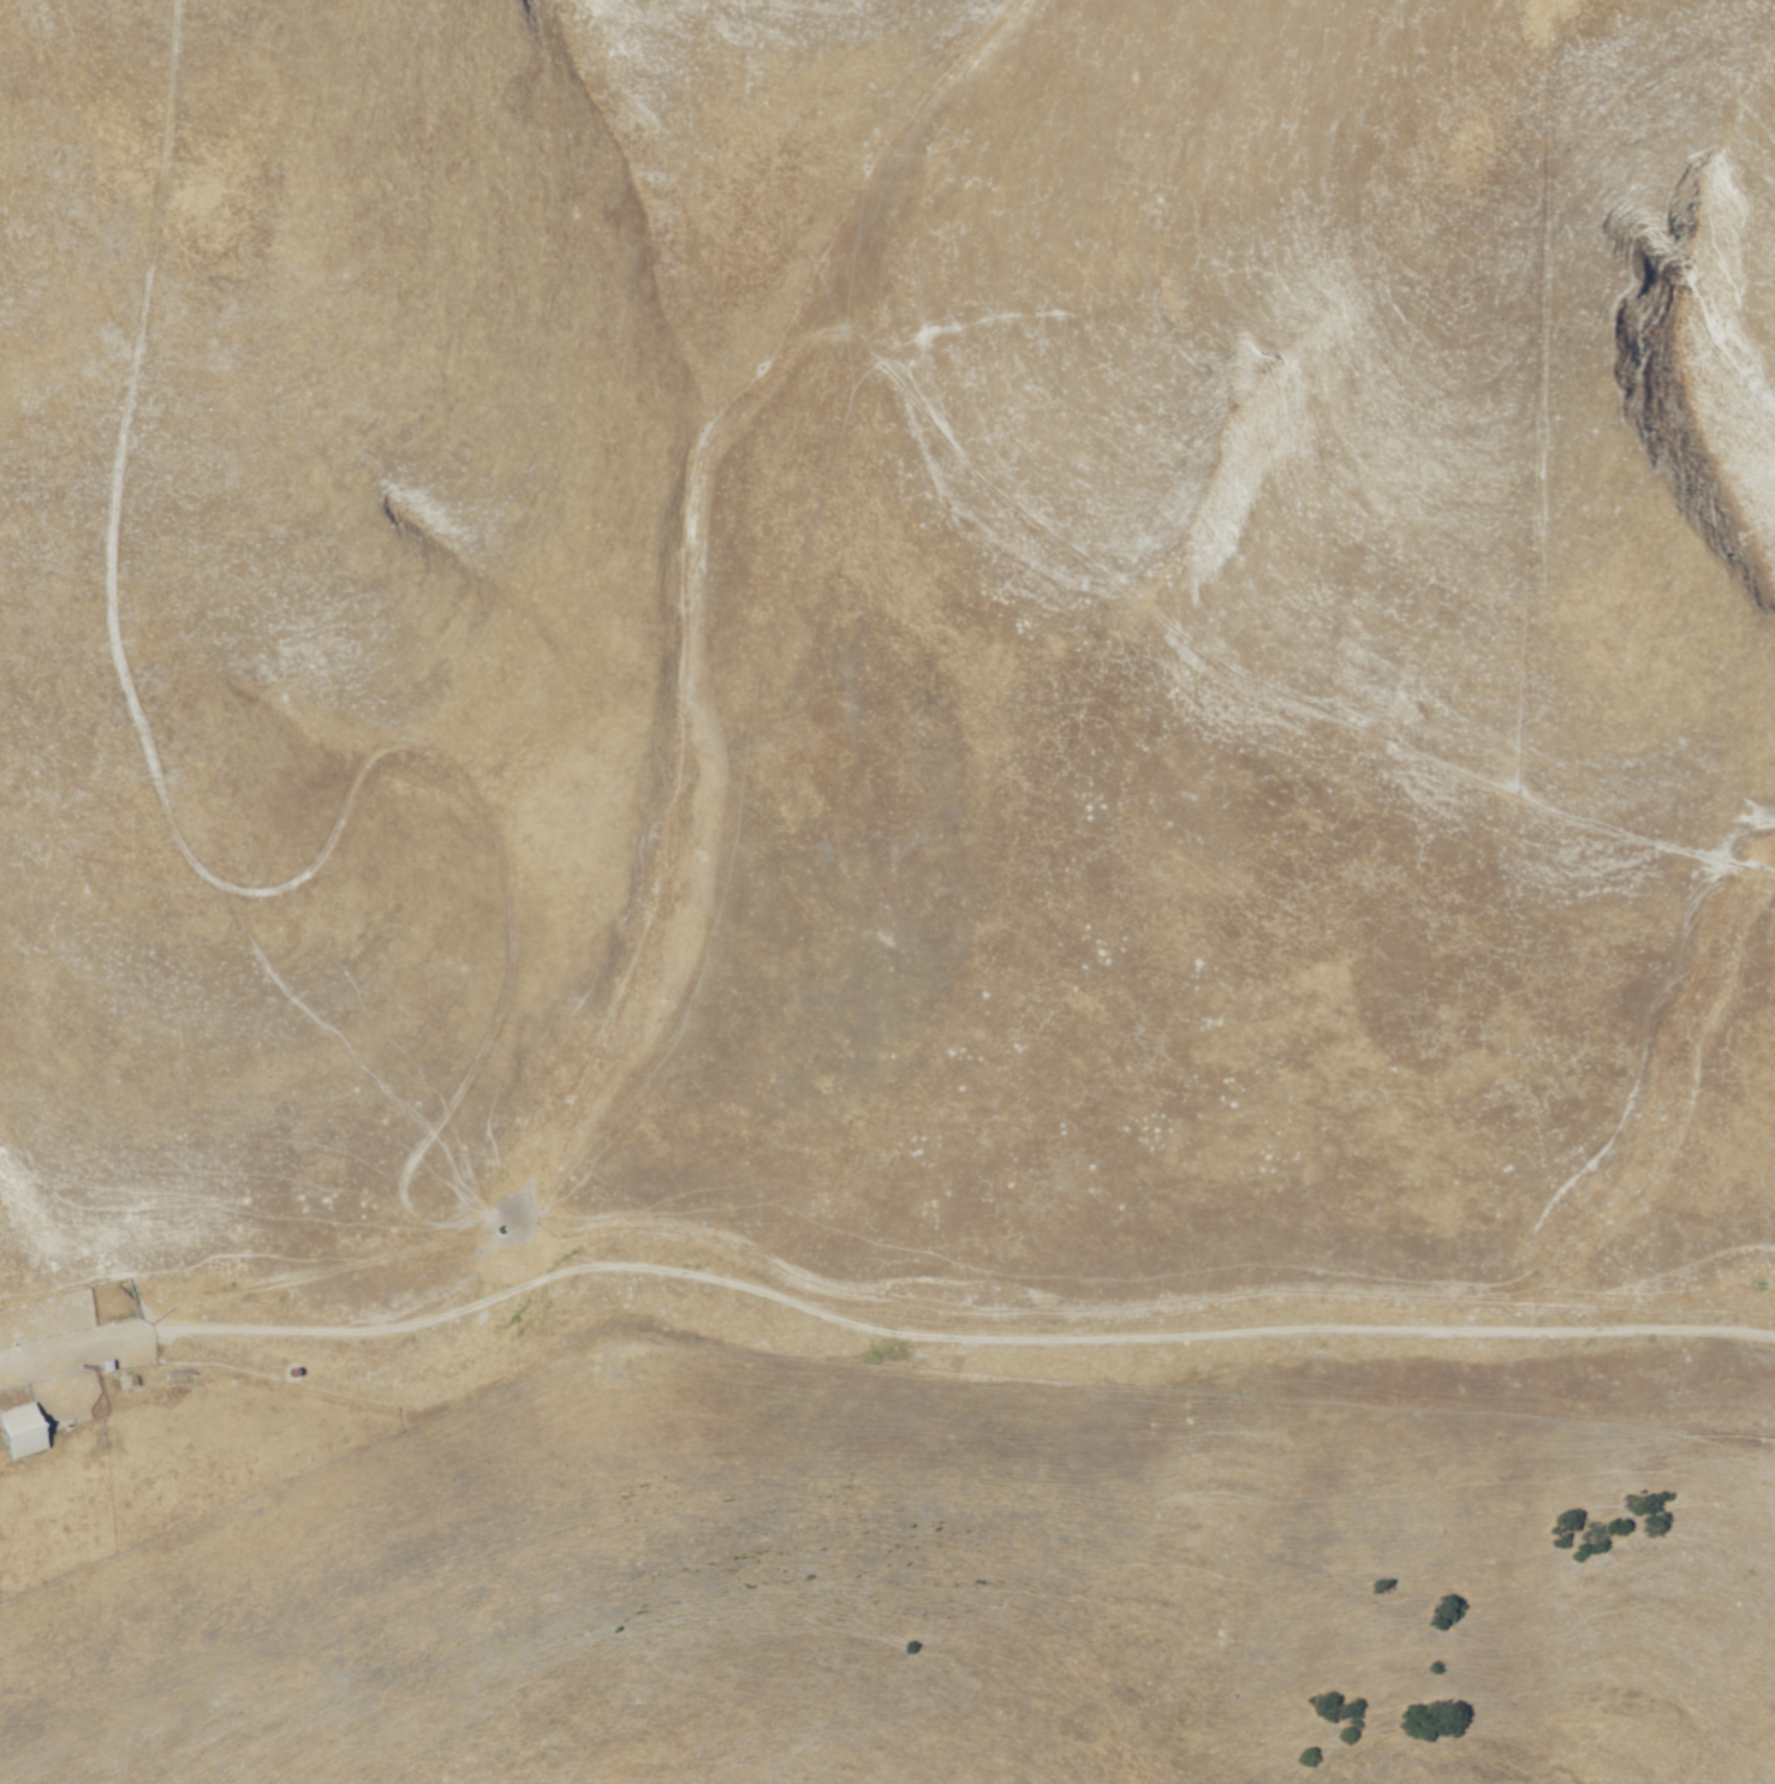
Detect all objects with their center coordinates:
road: (881, 1309)
building: (16, 1428)

